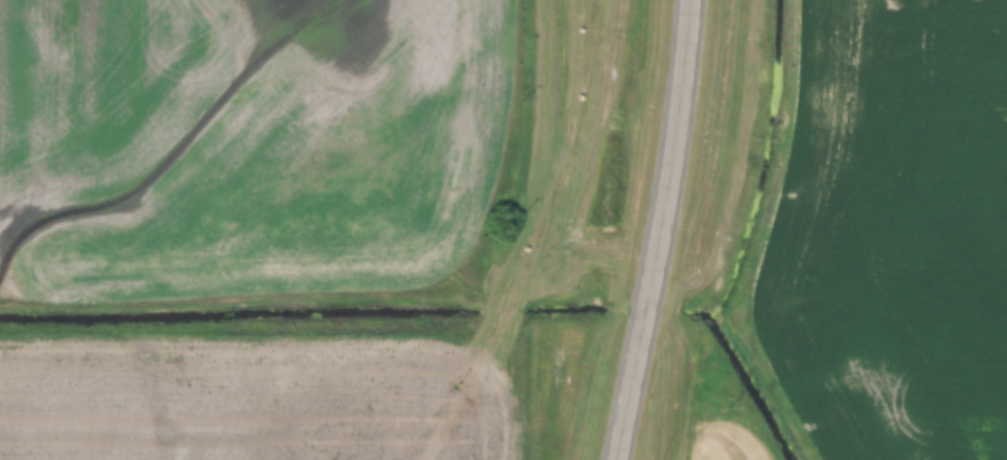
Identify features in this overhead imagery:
road: (662, 230)

